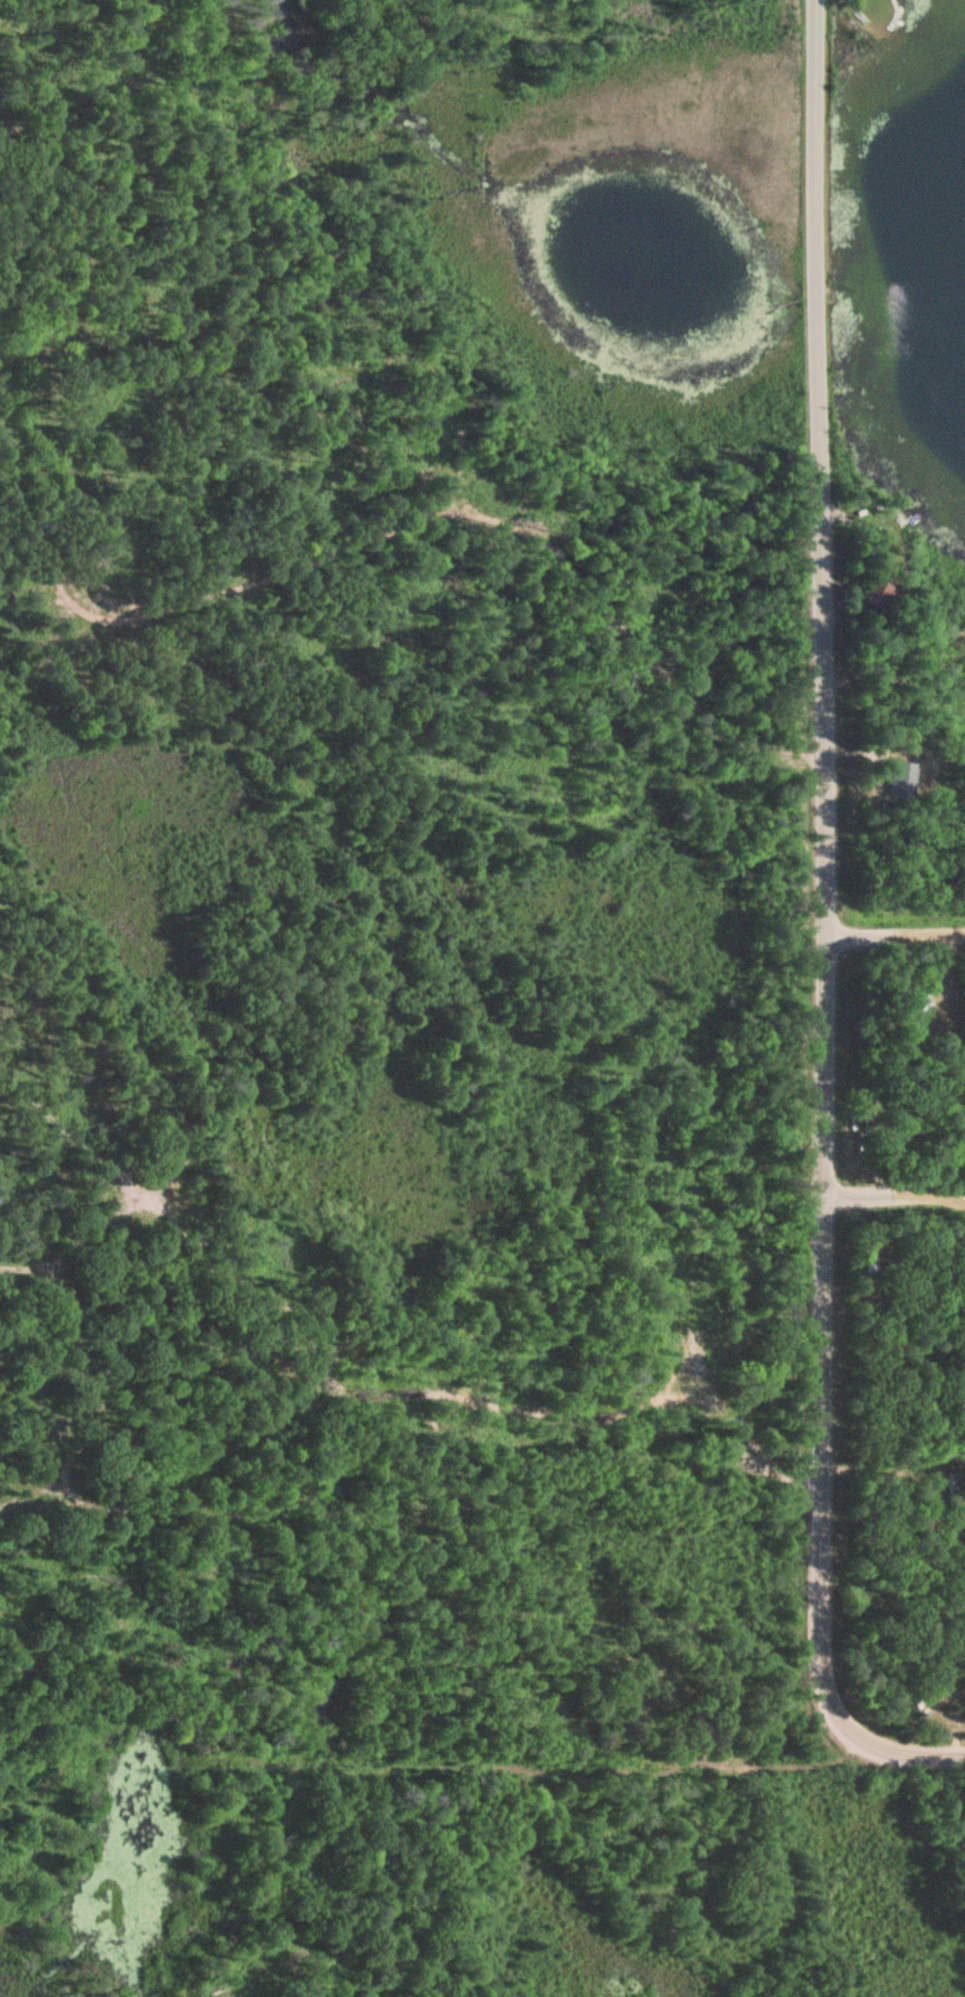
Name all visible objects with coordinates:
building: (879, 593)
building: (891, 736)
building: (903, 779)
road: (821, 856)
road: (892, 935)
building: (918, 1009)
road: (896, 1196)
building: (872, 1280)
building: (929, 1700)
road: (891, 1751)

